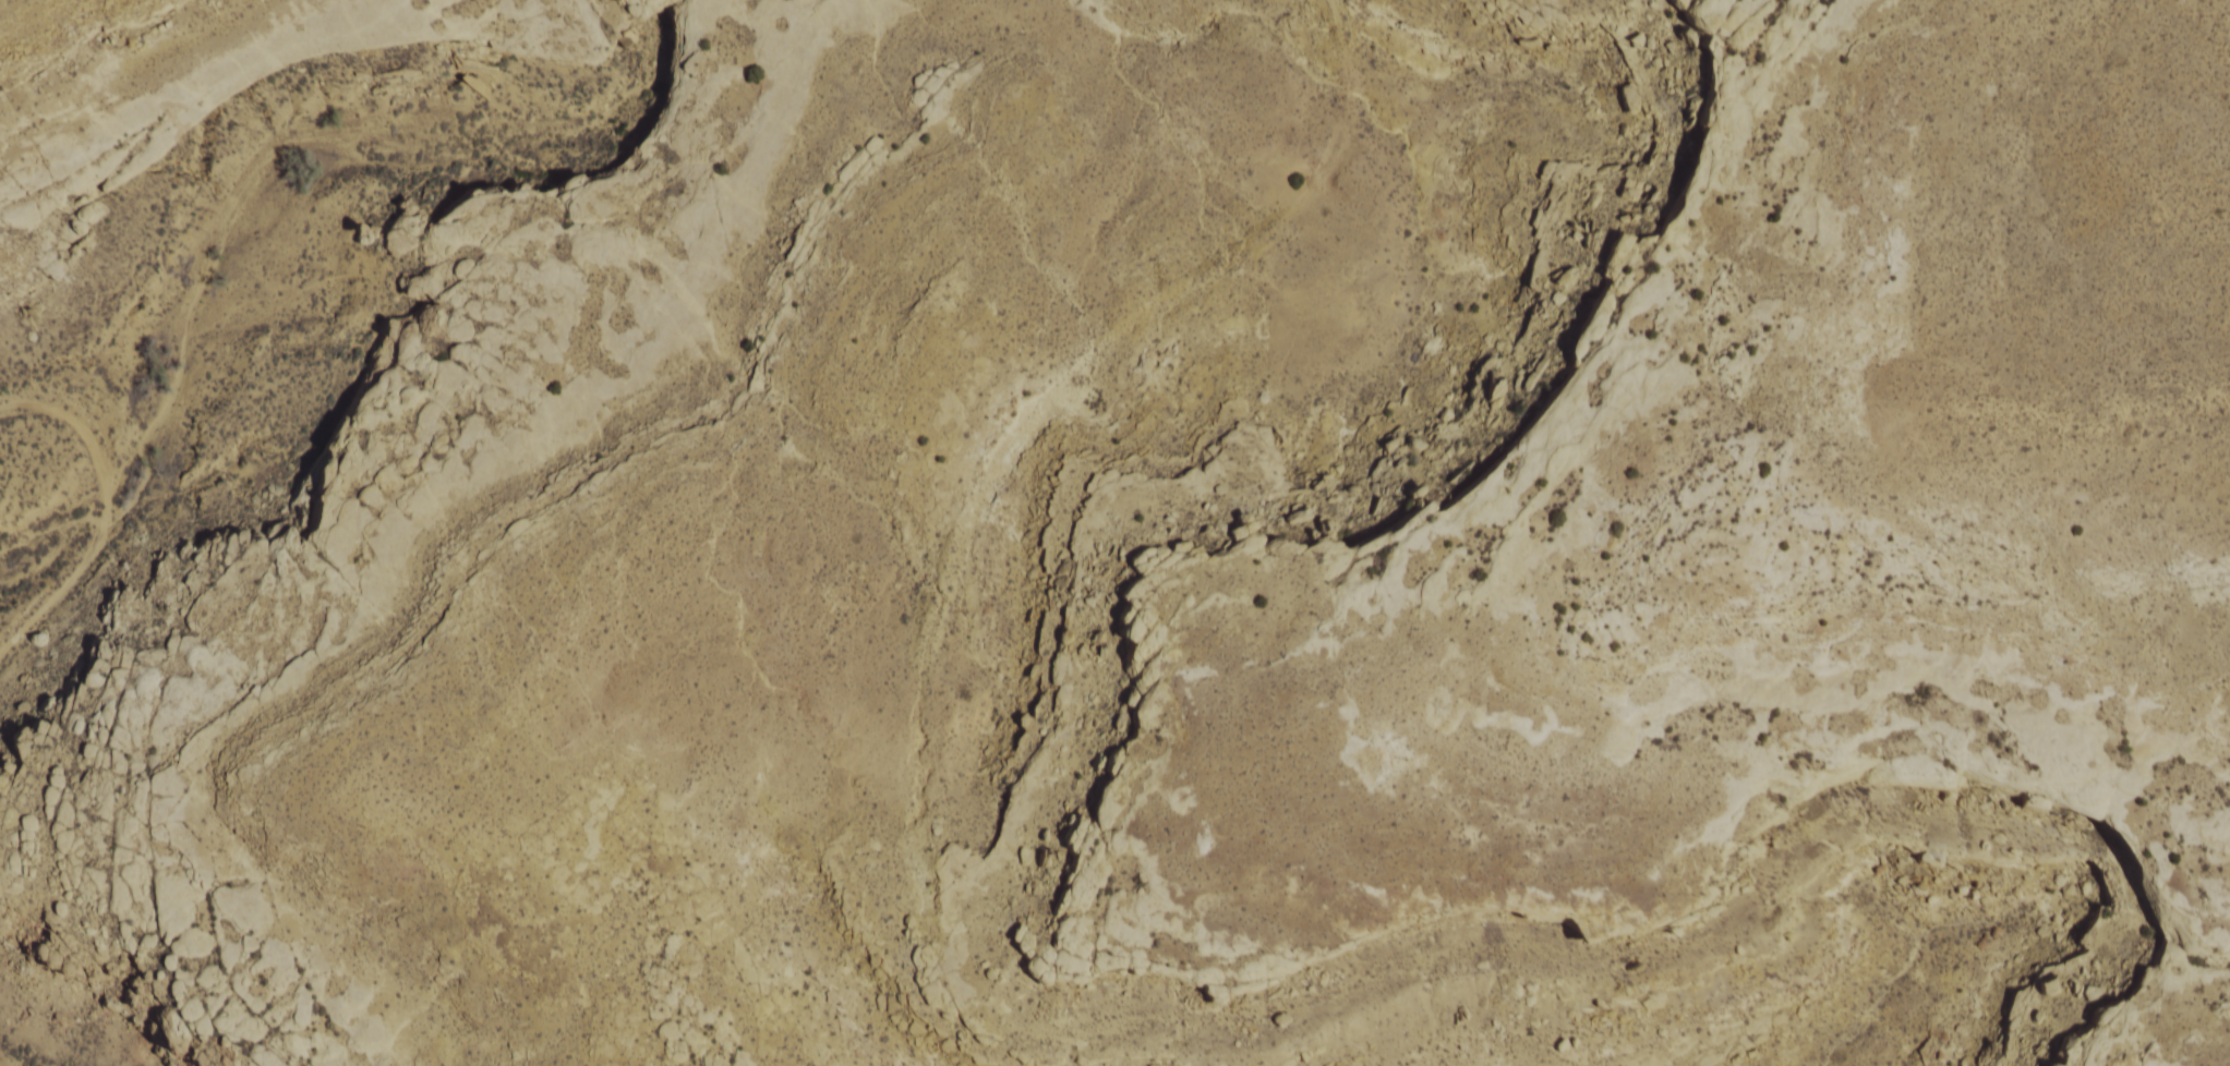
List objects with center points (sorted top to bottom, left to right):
road: (147, 81)
road: (106, 508)
road: (0, 1065)

